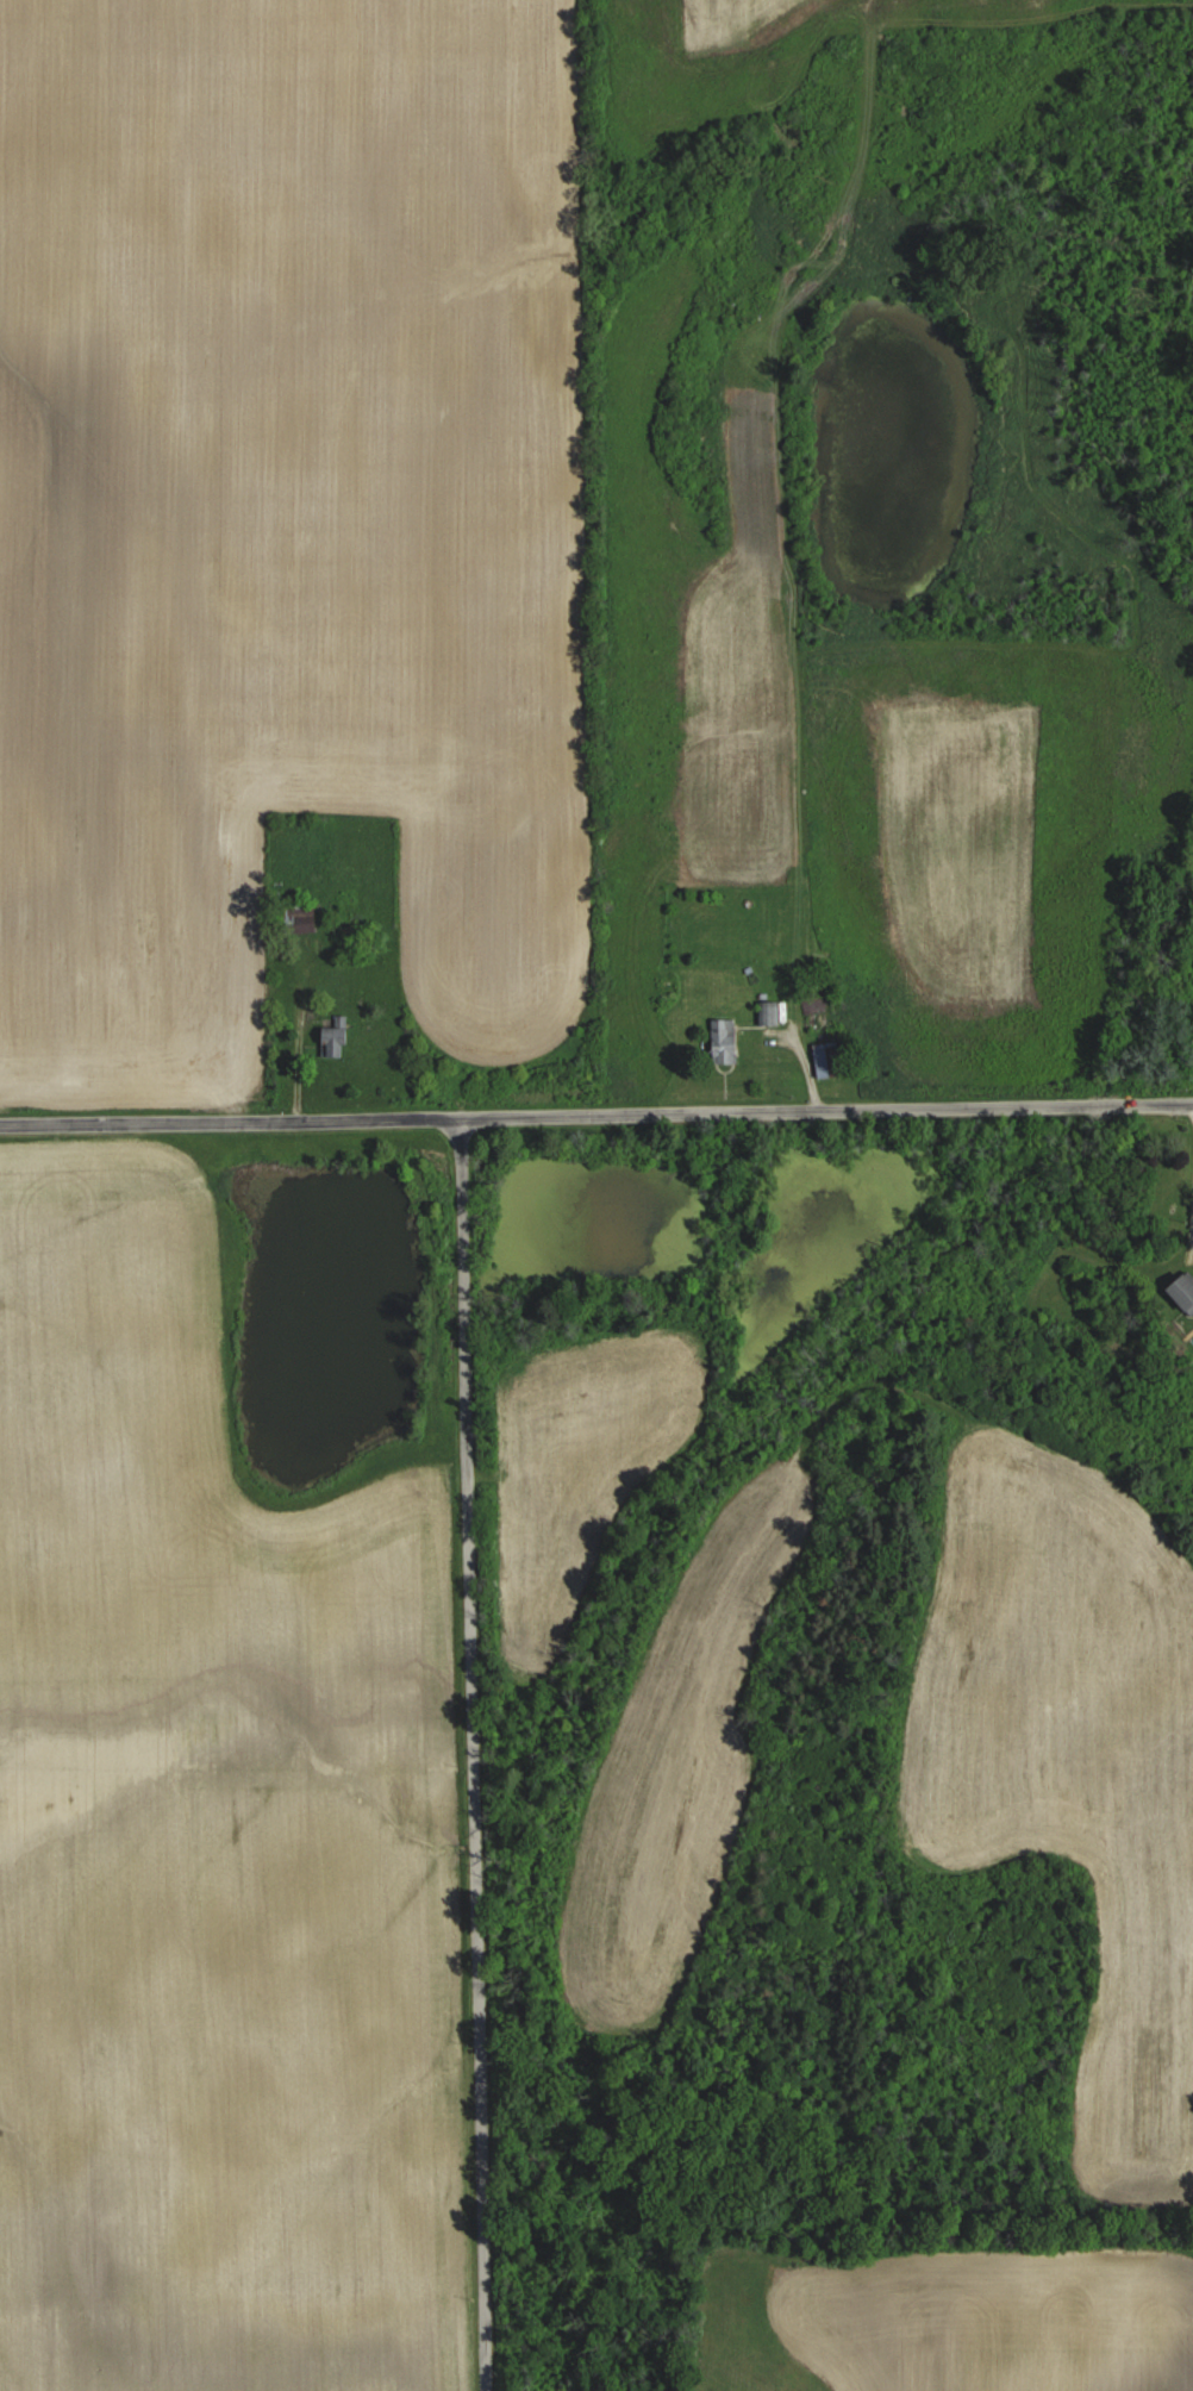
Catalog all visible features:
building: (299, 916)
building: (817, 1010)
building: (768, 1012)
building: (723, 1040)
building: (332, 1041)
building: (827, 1059)
road: (596, 1115)
building: (1182, 1288)
road: (475, 1754)

